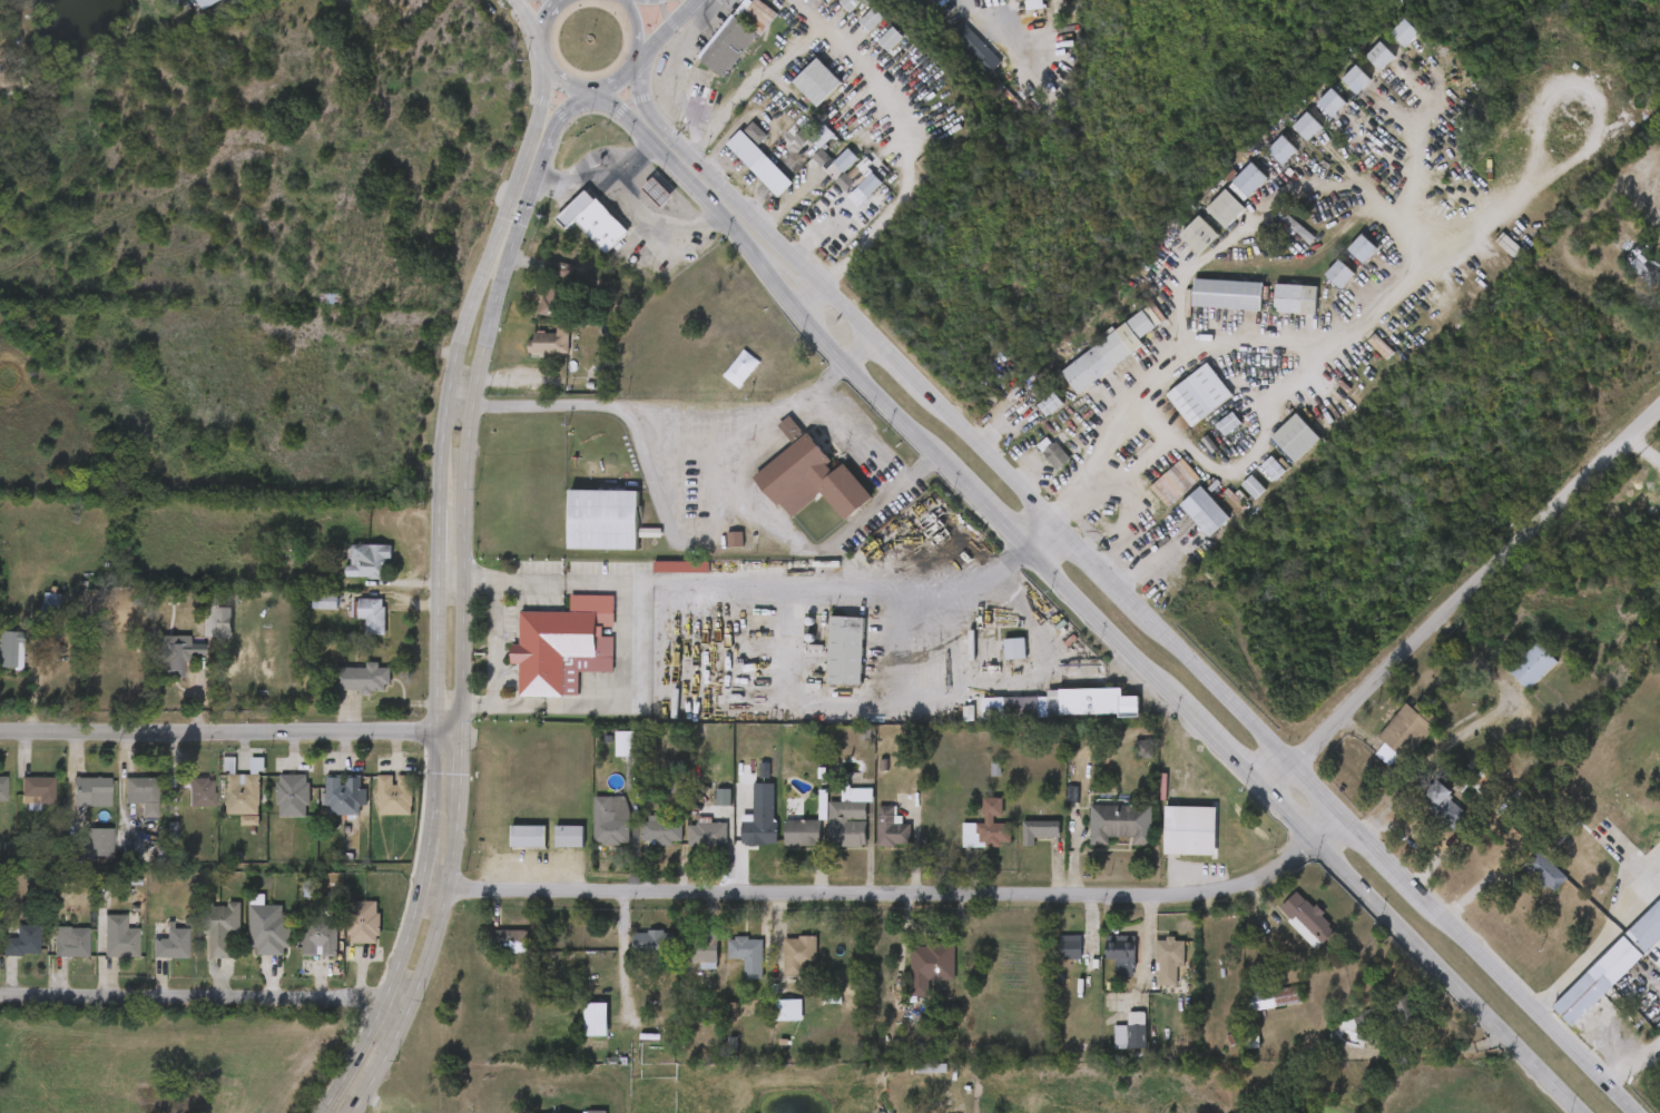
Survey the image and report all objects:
building: (985, 0)
building: (812, 2)
building: (206, 3)
building: (852, 3)
building: (1000, 7)
road: (531, 14)
building: (833, 16)
building: (873, 19)
road: (828, 24)
road: (640, 26)
road: (669, 29)
building: (1406, 32)
building: (735, 36)
building: (853, 36)
building: (892, 38)
building: (979, 50)
building: (872, 55)
building: (1382, 55)
road: (547, 58)
building: (708, 61)
road: (637, 62)
building: (955, 63)
building: (1356, 79)
road: (617, 80)
building: (818, 82)
building: (798, 98)
building: (694, 100)
building: (1333, 102)
building: (1307, 127)
road: (674, 138)
road: (549, 149)
building: (1283, 149)
building: (804, 152)
road: (639, 159)
building: (846, 160)
building: (758, 164)
road: (1408, 165)
building: (1263, 166)
building: (802, 174)
building: (827, 176)
building: (740, 179)
building: (1250, 180)
building: (871, 185)
road: (636, 188)
building: (1230, 196)
building: (825, 198)
road: (1273, 198)
building: (846, 204)
building: (639, 208)
building: (1227, 208)
road: (886, 214)
building: (601, 228)
building: (1200, 235)
building: (574, 237)
building: (1279, 245)
building: (1511, 246)
building: (1363, 248)
building: (1180, 250)
building: (1643, 264)
building: (1339, 274)
road: (480, 275)
building: (1620, 277)
building: (1320, 289)
building: (1228, 294)
building: (1296, 298)
building: (538, 306)
building: (1208, 311)
road: (493, 315)
building: (1277, 315)
building: (1381, 346)
building: (1108, 352)
building: (530, 359)
road: (888, 371)
road: (1314, 375)
road: (1147, 383)
building: (1199, 394)
road: (459, 408)
road: (778, 411)
building: (1032, 420)
building: (1298, 436)
building: (1209, 440)
building: (1658, 449)
road: (1643, 452)
building: (1276, 453)
building: (1055, 456)
building: (1033, 469)
road: (724, 472)
building: (812, 476)
building: (1171, 484)
building: (1256, 487)
building: (792, 493)
building: (1235, 503)
building: (1208, 512)
building: (603, 520)
building: (1186, 526)
road: (440, 543)
building: (716, 554)
road: (1155, 564)
road: (464, 573)
building: (350, 577)
road: (452, 578)
road: (528, 581)
building: (662, 582)
road: (807, 585)
road: (965, 590)
road: (1463, 599)
road: (1082, 605)
building: (33, 617)
building: (305, 617)
building: (352, 630)
road: (495, 643)
building: (1015, 649)
building: (559, 652)
building: (846, 652)
road: (1187, 653)
building: (1, 664)
building: (995, 664)
building: (827, 666)
building: (1532, 666)
building: (157, 669)
road: (630, 674)
building: (1513, 681)
road: (983, 690)
building: (343, 695)
building: (1092, 702)
road: (436, 708)
building: (1054, 719)
road: (229, 732)
building: (1405, 735)
building: (1384, 749)
building: (1143, 750)
building: (606, 759)
building: (1123, 765)
road: (459, 771)
building: (3, 789)
building: (141, 790)
building: (38, 791)
building: (92, 792)
building: (203, 794)
building: (242, 795)
building: (344, 796)
building: (395, 796)
building: (292, 797)
building: (223, 805)
building: (19, 806)
building: (1445, 806)
building: (72, 807)
building: (183, 808)
building: (125, 809)
building: (326, 810)
building: (376, 810)
building: (273, 811)
building: (704, 812)
building: (851, 818)
building: (1424, 819)
building: (611, 820)
building: (1121, 824)
building: (760, 826)
building: (1628, 826)
building: (989, 828)
building: (892, 829)
building: (661, 830)
building: (803, 831)
building: (1040, 831)
building: (1191, 831)
building: (707, 834)
building: (831, 834)
building: (230, 836)
building: (592, 836)
building: (530, 837)
building: (569, 837)
building: (1102, 839)
building: (1608, 840)
building: (741, 841)
building: (969, 843)
building: (98, 844)
building: (873, 844)
building: (644, 845)
building: (1021, 846)
building: (1171, 846)
building: (782, 847)
building: (689, 849)
building: (509, 851)
building: (550, 851)
building: (79, 857)
road: (428, 866)
building: (1546, 873)
building: (1526, 886)
road: (894, 895)
building: (1640, 897)
building: (1310, 918)
building: (363, 923)
building: (1647, 929)
building: (222, 930)
building: (269, 932)
building: (1288, 935)
building: (345, 937)
building: (320, 938)
road: (1598, 939)
building: (509, 942)
building: (22, 943)
building: (71, 944)
building: (122, 944)
building: (204, 944)
building: (173, 945)
building: (251, 945)
building: (655, 946)
building: (1068, 946)
building: (700, 949)
building: (101, 953)
building: (302, 954)
building: (747, 954)
building: (9, 955)
building: (800, 956)
building: (490, 957)
building: (633, 957)
building: (1123, 957)
building: (55, 958)
road: (623, 958)
building: (153, 959)
building: (1169, 961)
building: (1051, 963)
building: (685, 965)
road: (426, 966)
building: (926, 966)
building: (780, 969)
building: (1102, 969)
building: (729, 971)
building: (1150, 976)
building: (1598, 982)
road: (205, 999)
building: (1274, 999)
road: (384, 1006)
building: (788, 1009)
building: (1257, 1013)
building: (597, 1020)
building: (1385, 1024)
building: (769, 1025)
building: (1132, 1033)
building: (577, 1035)
building: (1112, 1047)
road: (1633, 1062)
building: (596, 1112)

